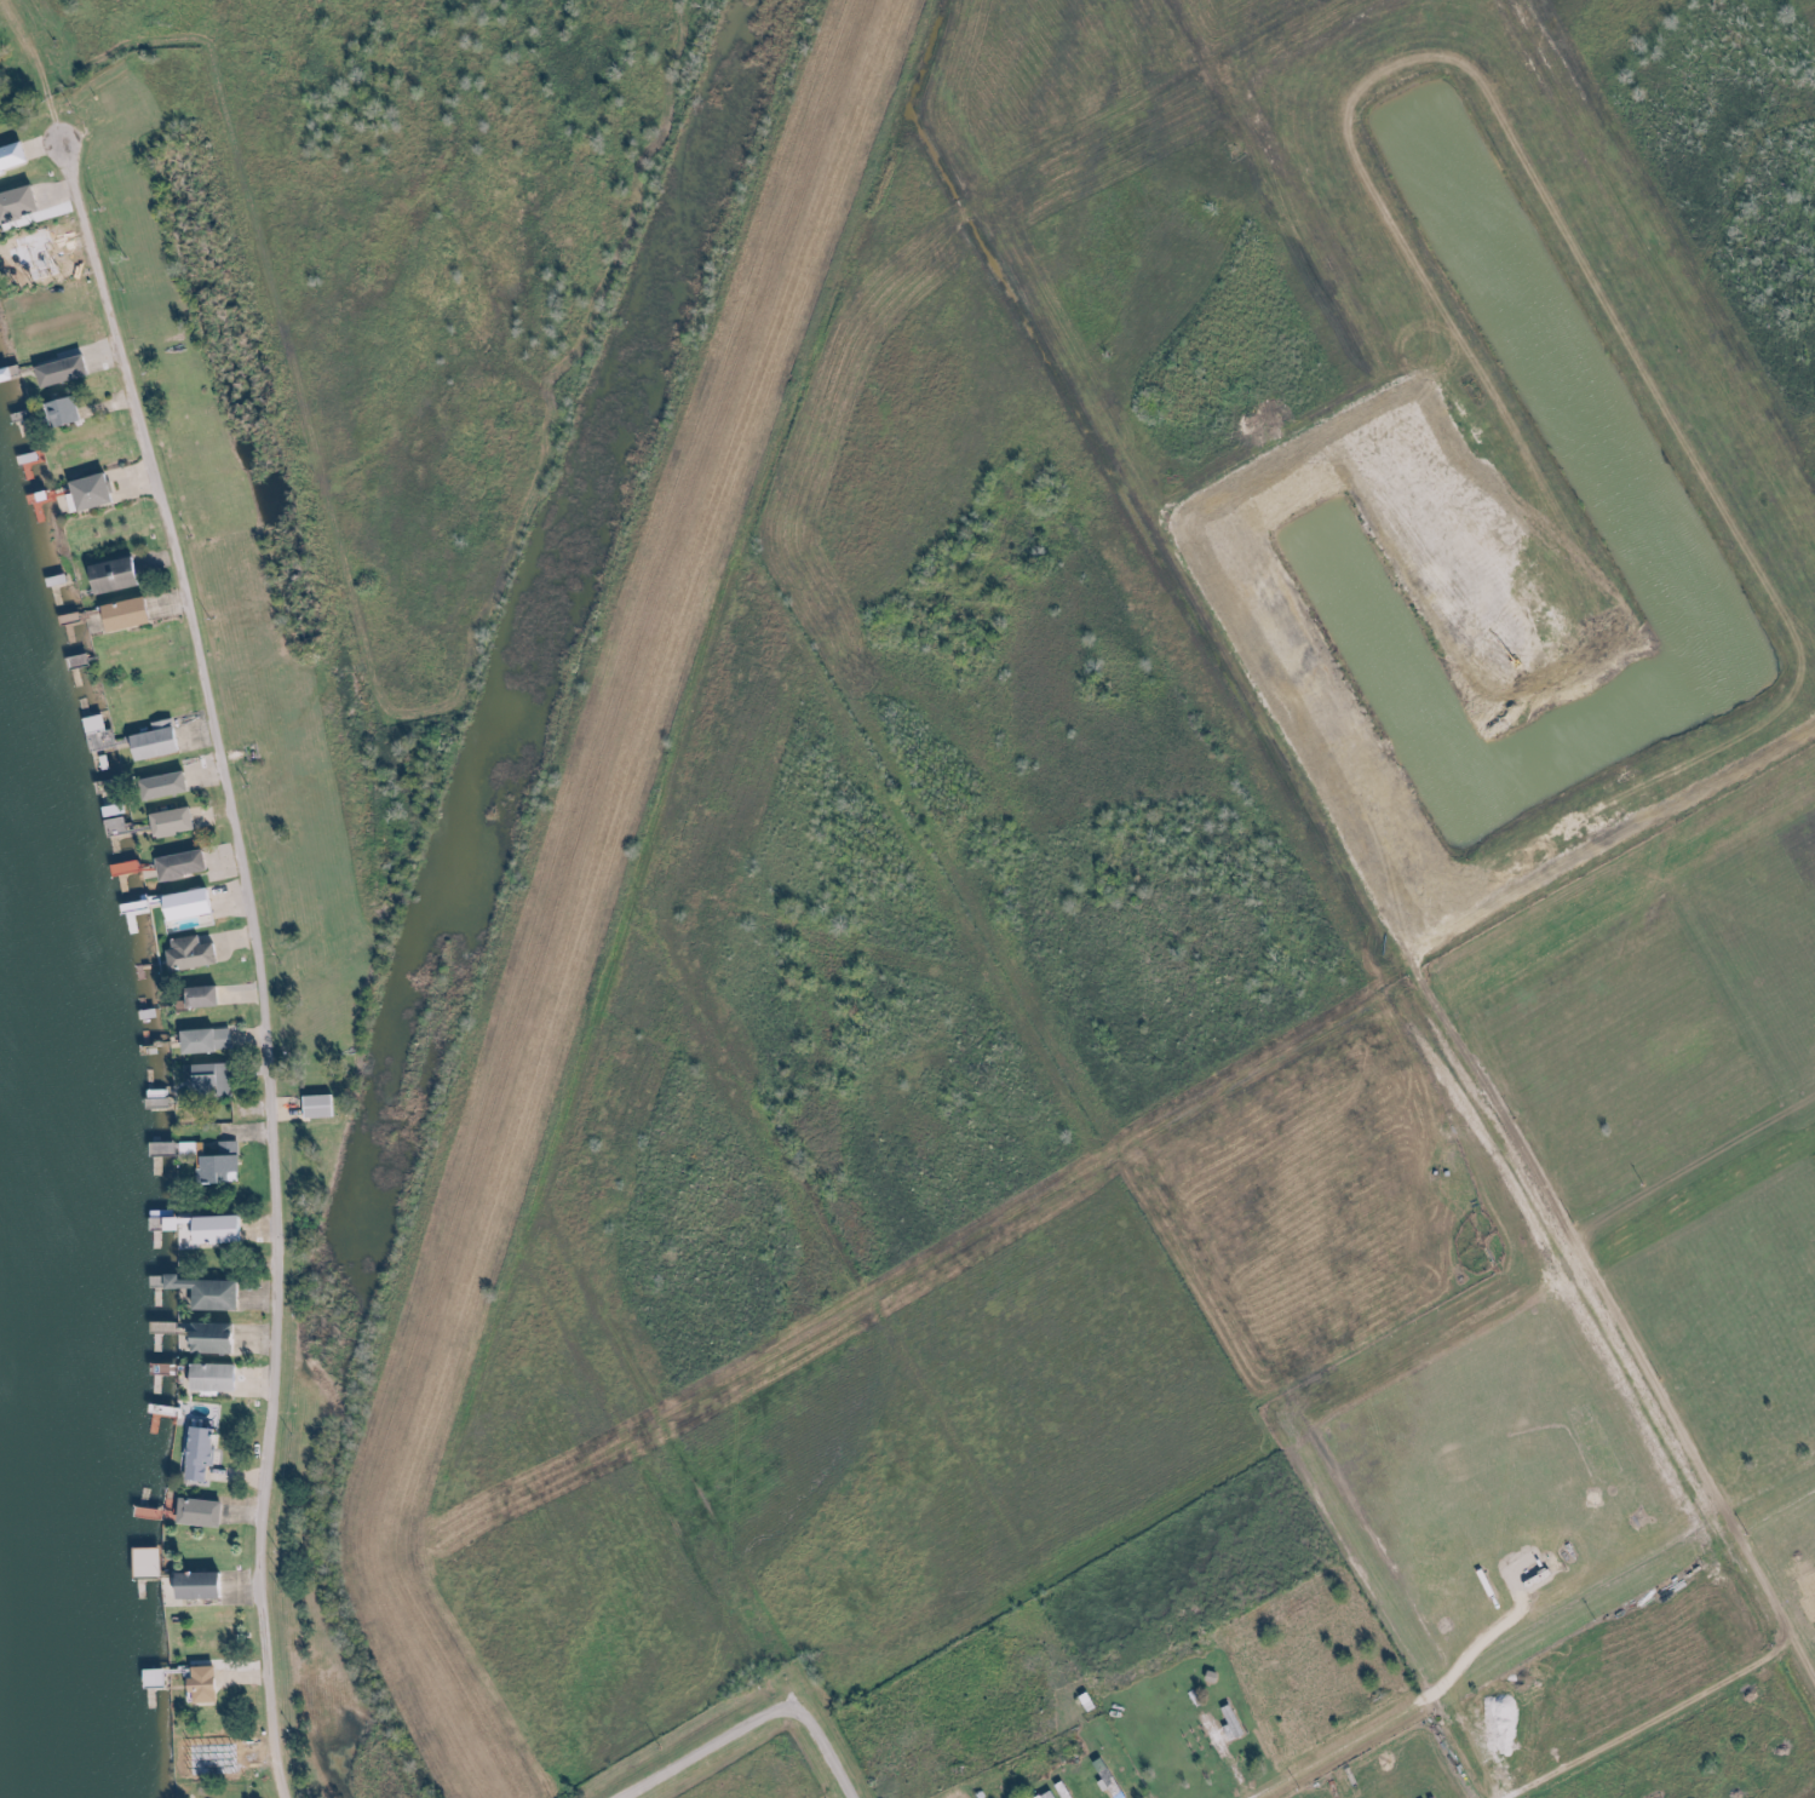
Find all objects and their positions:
building: (17, 157)
building: (23, 203)
road: (762, 305)
building: (71, 369)
building: (71, 410)
building: (98, 492)
building: (125, 574)
building: (134, 613)
building: (103, 733)
building: (166, 740)
building: (173, 785)
building: (180, 821)
building: (190, 864)
building: (199, 903)
building: (200, 953)
road: (259, 958)
building: (211, 996)
building: (213, 1040)
building: (214, 1078)
building: (324, 1105)
building: (179, 1148)
building: (226, 1164)
building: (219, 1229)
river: (44, 1286)
building: (212, 1292)
building: (223, 1338)
building: (223, 1378)
building: (207, 1454)
building: (208, 1512)
building: (151, 1562)
building: (209, 1584)
building: (159, 1677)
building: (212, 1683)
building: (1236, 1723)
road: (711, 1750)
road: (820, 1750)
road: (1280, 1780)
building: (1051, 1794)

